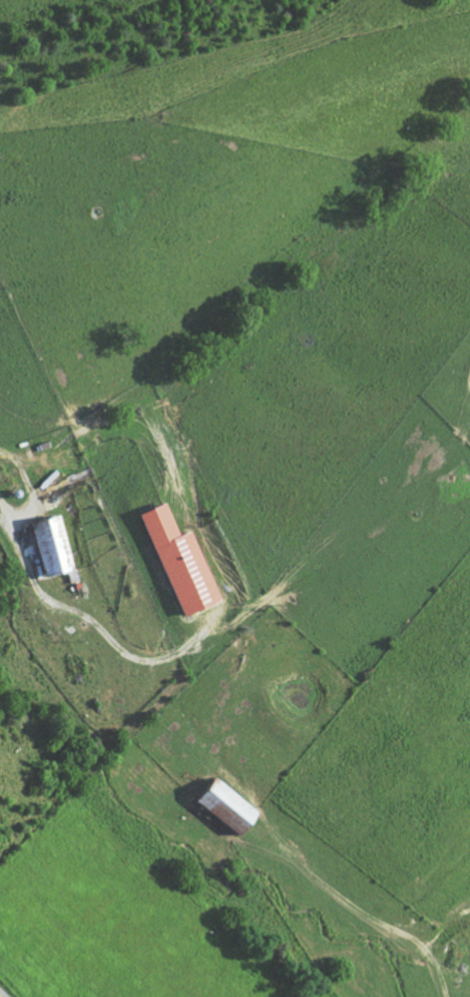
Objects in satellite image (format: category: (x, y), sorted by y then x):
building: (53, 545)
building: (183, 561)
road: (108, 619)
building: (229, 806)
road: (436, 987)
road: (3, 993)

